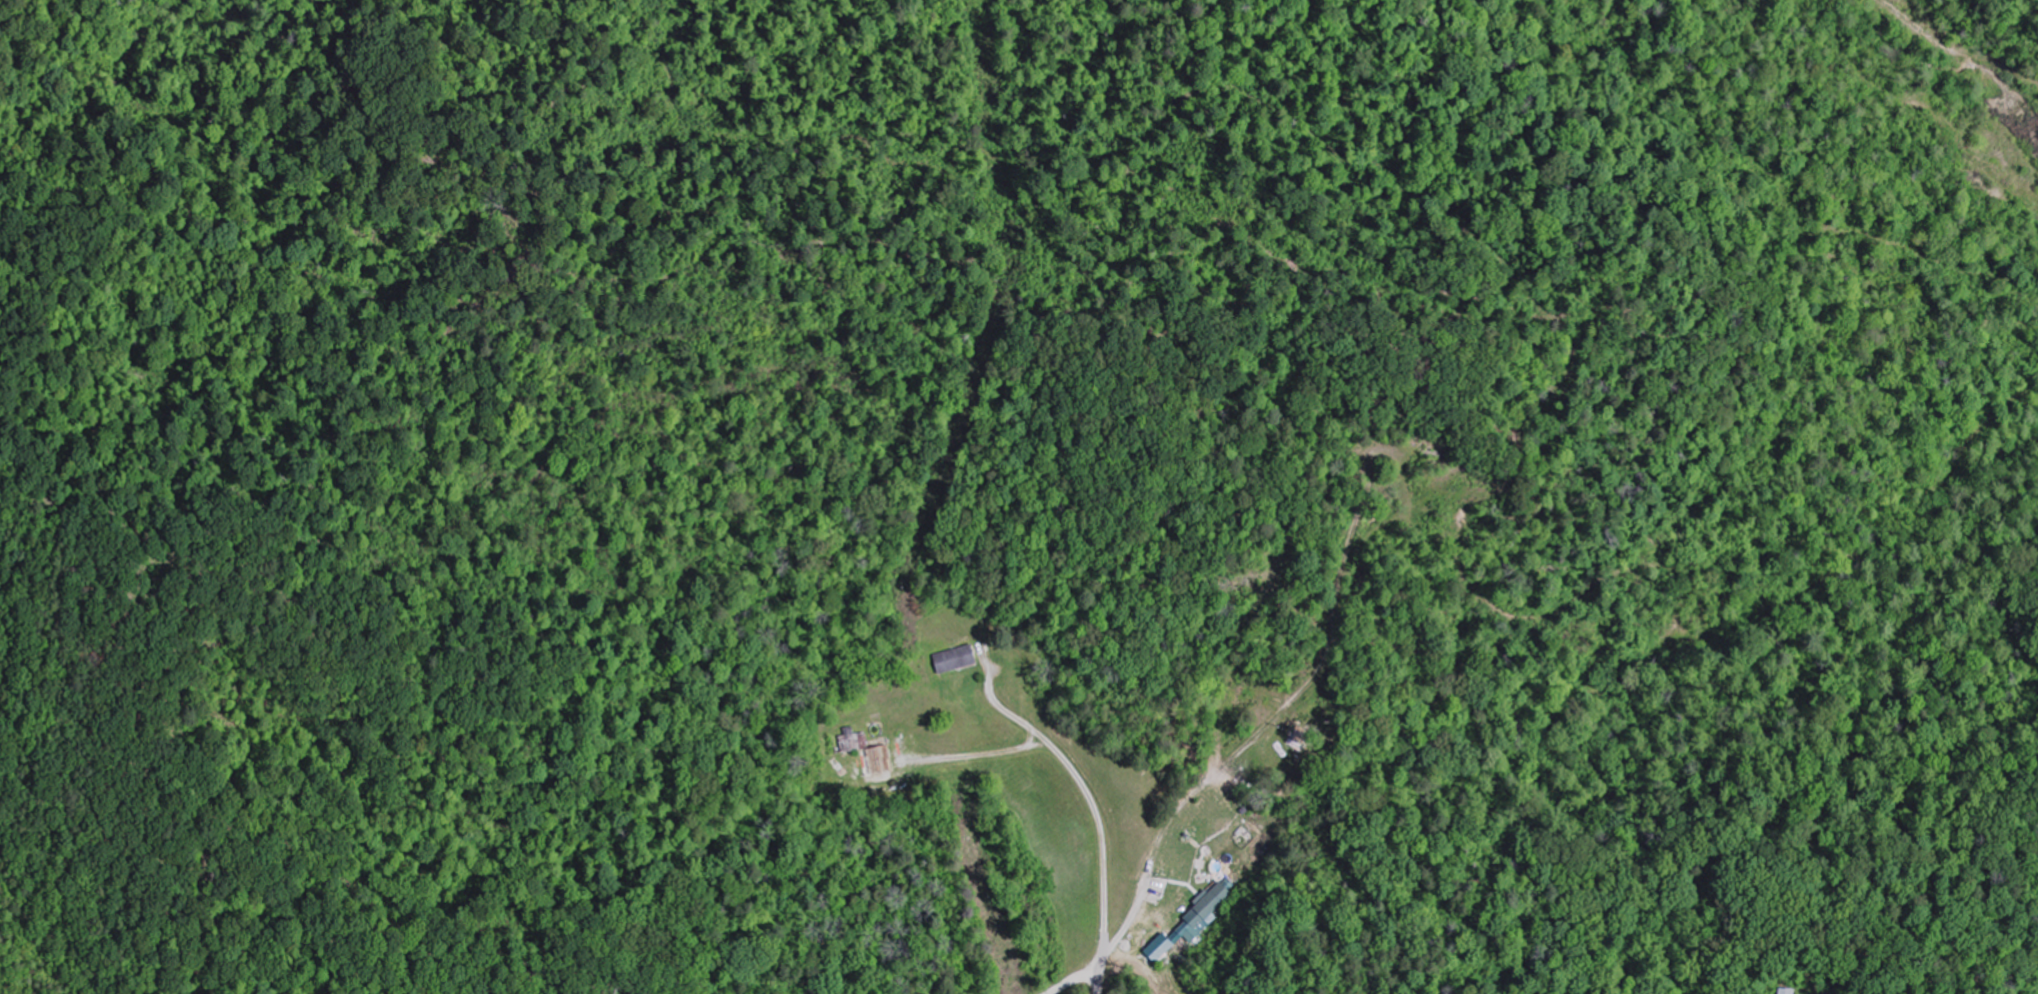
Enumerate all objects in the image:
building: (955, 662)
road: (973, 751)
building: (877, 759)
road: (1080, 780)
building: (1191, 922)
road: (1114, 946)
road: (1101, 962)

